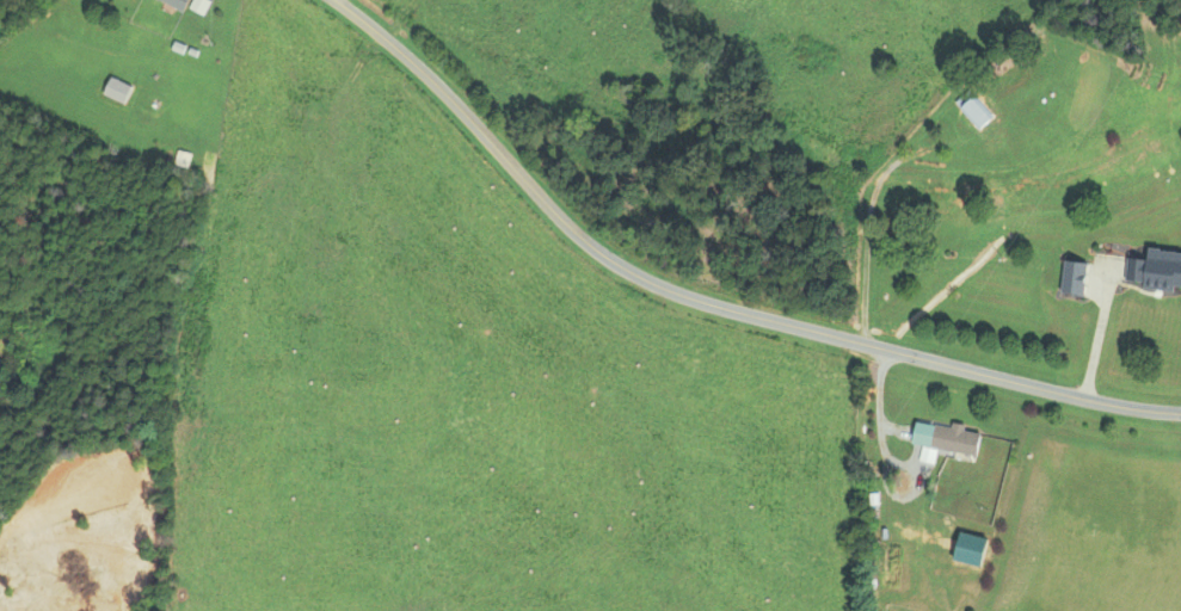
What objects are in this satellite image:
building: (195, 5)
building: (968, 109)
road: (871, 200)
building: (1150, 270)
road: (706, 301)
road: (1099, 331)
road: (879, 424)
building: (934, 437)
building: (885, 570)

